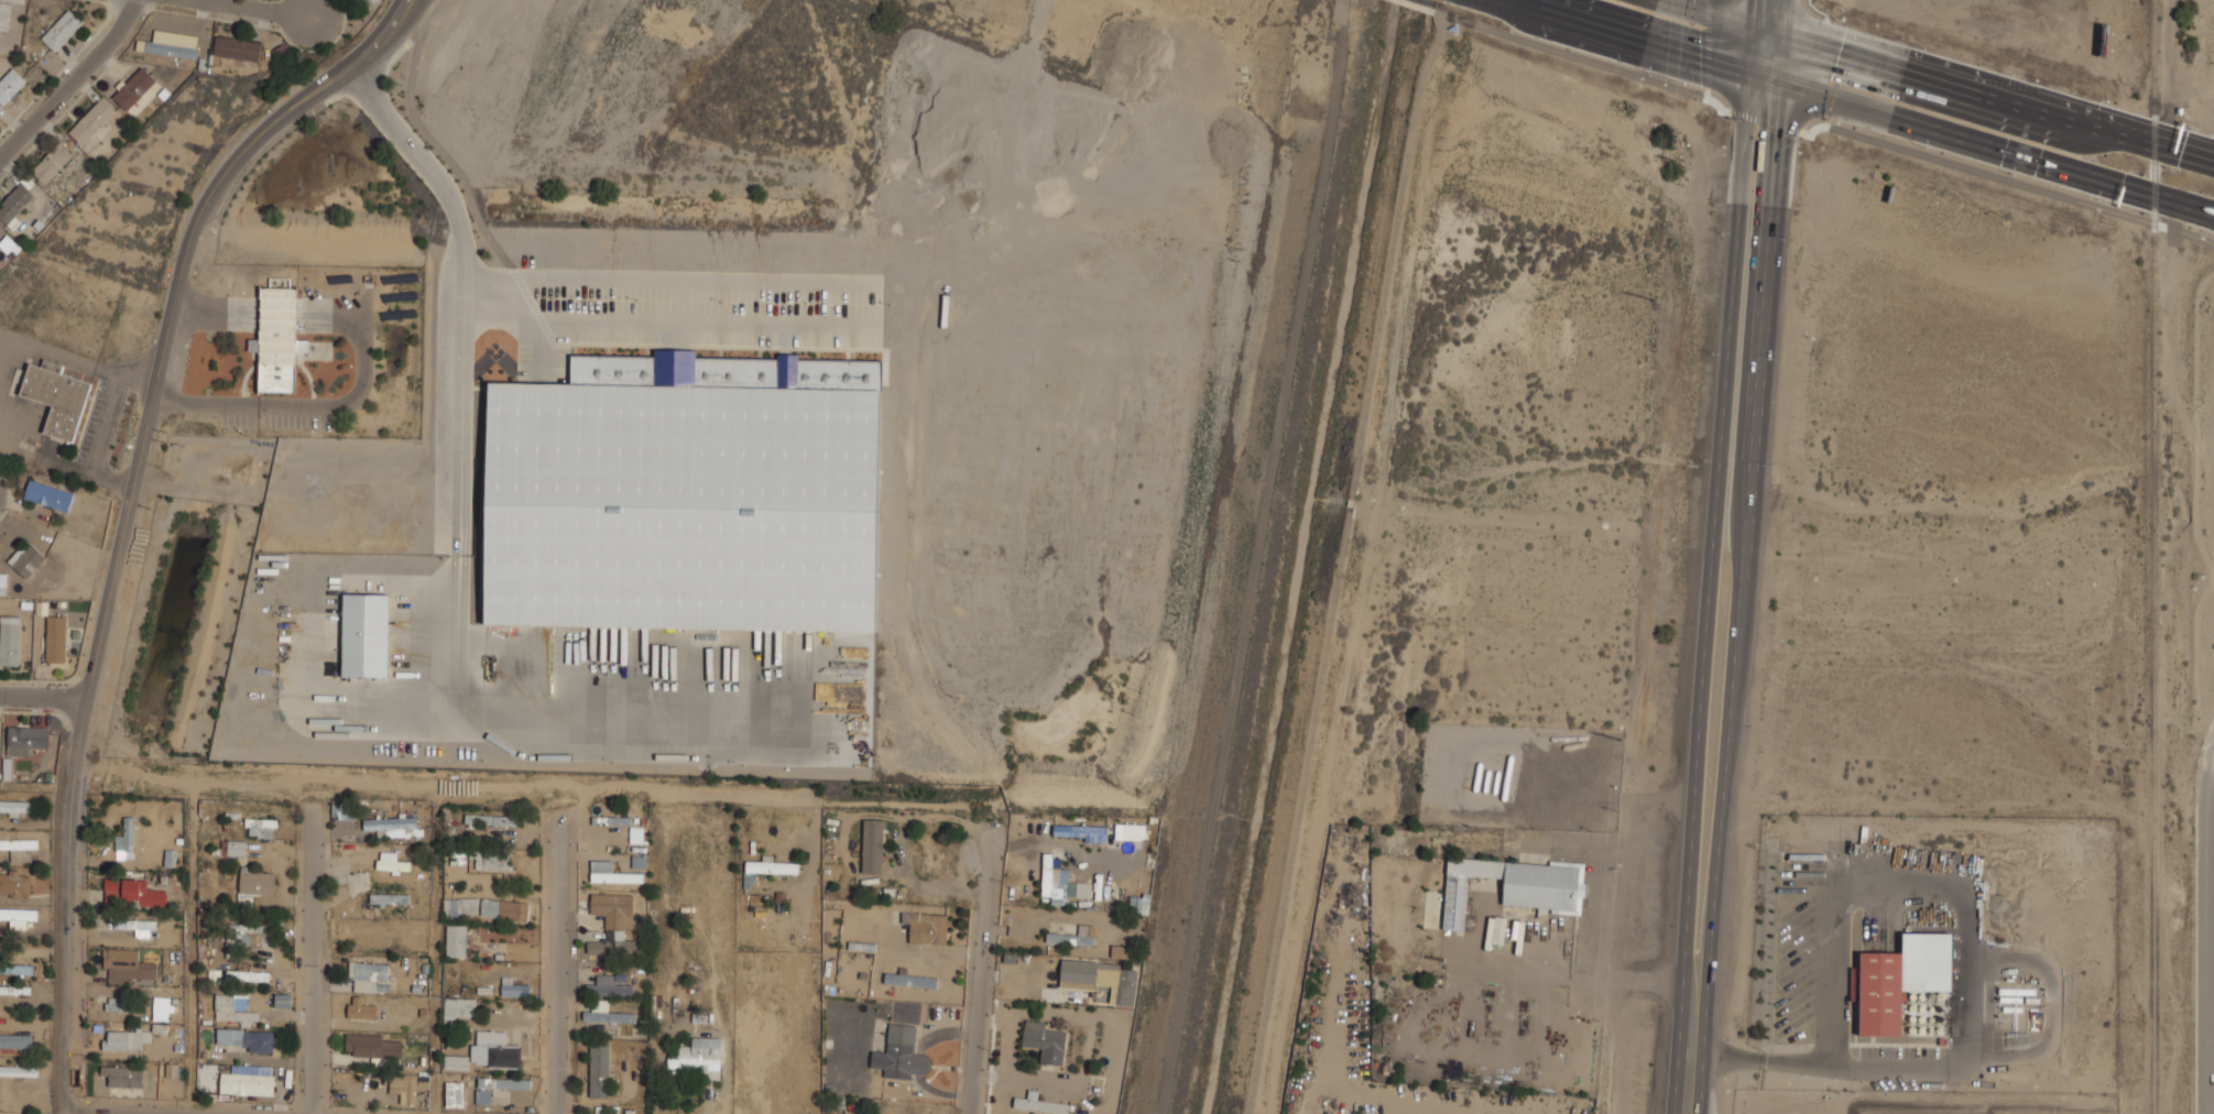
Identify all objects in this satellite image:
road: (210, 0)
building: (371, 0)
road: (1420, 6)
road: (266, 9)
building: (3, 13)
building: (1453, 28)
building: (62, 29)
traffic signals: (1754, 31)
road: (1638, 40)
traffic signals: (1784, 41)
building: (173, 44)
road: (1585, 47)
building: (238, 48)
traffic signals: (1747, 70)
road: (68, 77)
traffic signals: (1781, 83)
road: (1932, 84)
building: (11, 86)
building: (134, 88)
building: (94, 122)
road: (1967, 139)
building: (52, 163)
road: (1962, 170)
road: (465, 179)
building: (14, 205)
road: (2184, 205)
road: (669, 277)
building: (277, 342)
building: (57, 397)
building: (686, 494)
building: (48, 495)
road: (128, 511)
road: (459, 536)
road: (1712, 556)
road: (1342, 557)
road: (1743, 557)
railway: (2153, 557)
building: (28, 559)
building: (364, 634)
building: (56, 638)
building: (10, 641)
road: (42, 696)
building: (26, 740)
building: (1476, 776)
storage tank: (1476, 776)
building: (1507, 778)
storage tank: (1507, 778)
building: (1486, 780)
storage tank: (1486, 780)
building: (1495, 782)
storage tank: (1495, 782)
road: (489, 787)
building: (15, 806)
road: (580, 807)
building: (504, 820)
building: (396, 826)
building: (261, 828)
building: (1082, 832)
building: (127, 840)
building: (873, 845)
building: (237, 848)
building: (20, 849)
building: (490, 861)
building: (391, 862)
building: (772, 867)
building: (1055, 880)
building: (15, 883)
building: (254, 886)
building: (1514, 886)
building: (133, 894)
building: (389, 898)
building: (1139, 903)
building: (461, 906)
building: (504, 909)
building: (19, 917)
building: (613, 924)
building: (137, 926)
building: (927, 928)
building: (1498, 929)
road: (2208, 933)
building: (1073, 936)
building: (456, 940)
building: (1121, 951)
road: (314, 959)
building: (127, 965)
road: (561, 968)
road: (1971, 969)
building: (248, 975)
building: (368, 975)
road: (1694, 975)
road: (981, 978)
building: (1101, 978)
building: (1900, 980)
building: (610, 985)
building: (515, 990)
building: (162, 1008)
building: (235, 1008)
building: (361, 1008)
building: (458, 1008)
building: (607, 1014)
building: (126, 1039)
building: (249, 1039)
building: (15, 1040)
building: (1045, 1041)
building: (372, 1045)
building: (494, 1050)
building: (901, 1053)
building: (698, 1058)
building: (456, 1062)
building: (599, 1071)
building: (123, 1075)
building: (207, 1075)
building: (423, 1082)
building: (247, 1083)
building: (404, 1086)
building: (454, 1094)
building: (1038, 1104)

